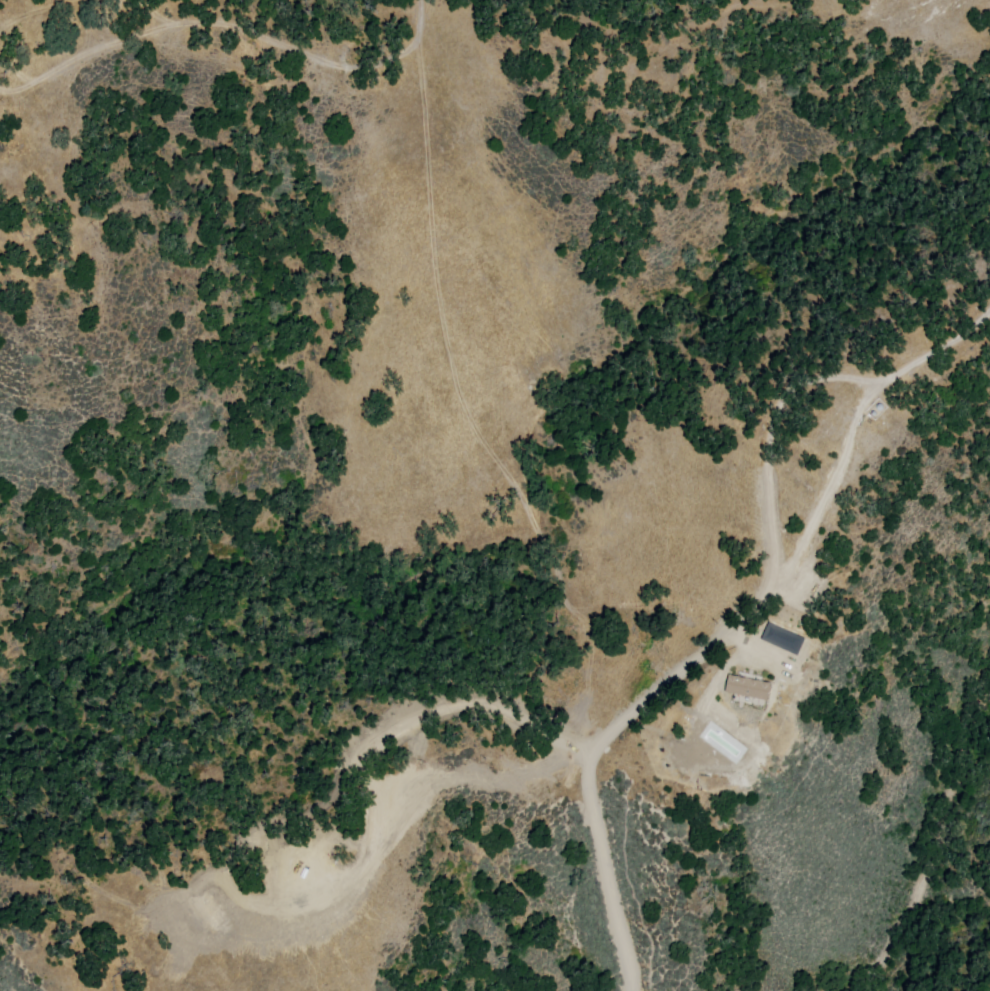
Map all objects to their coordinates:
road: (736, 626)
building: (748, 689)

